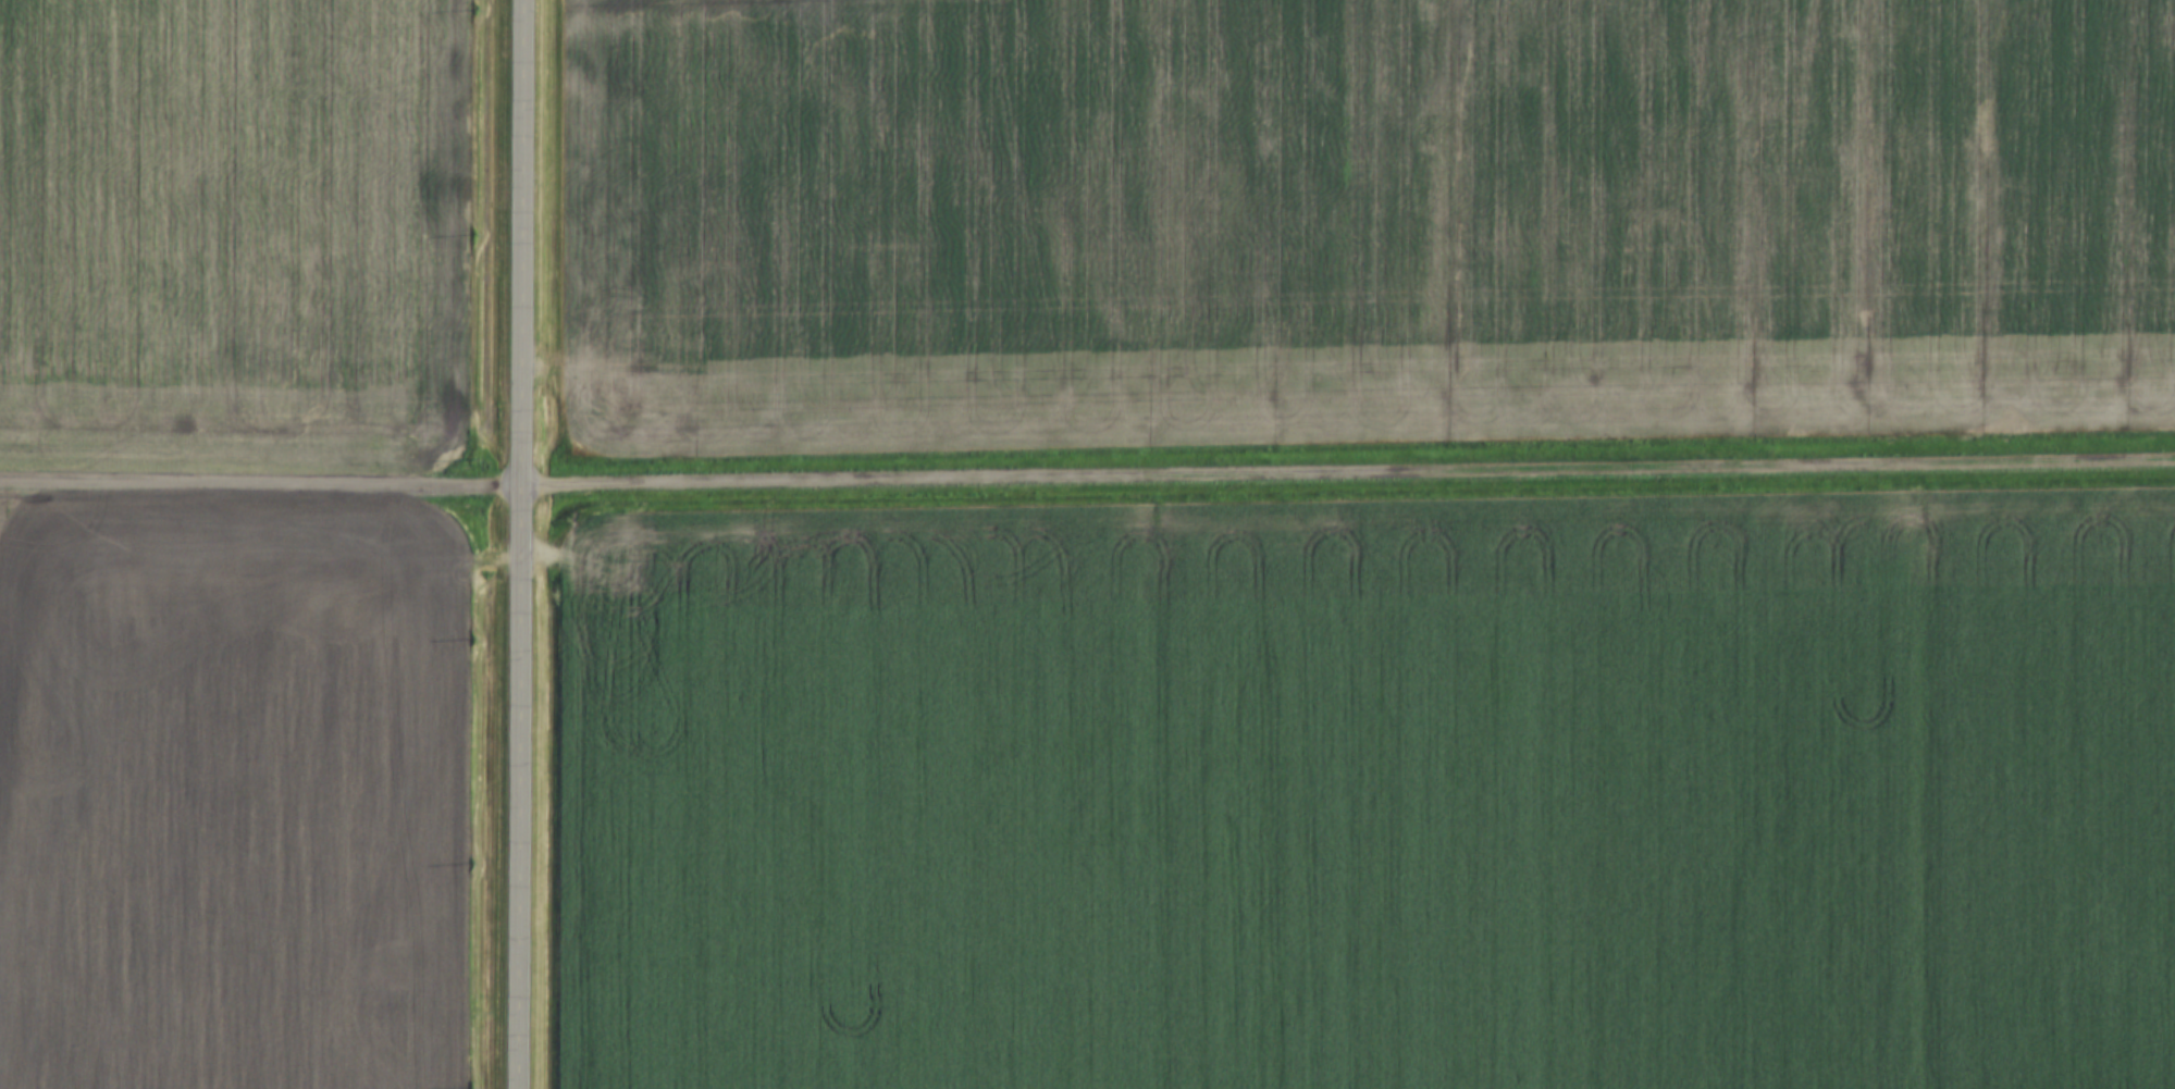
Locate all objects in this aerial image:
road: (1087, 481)
road: (526, 544)

